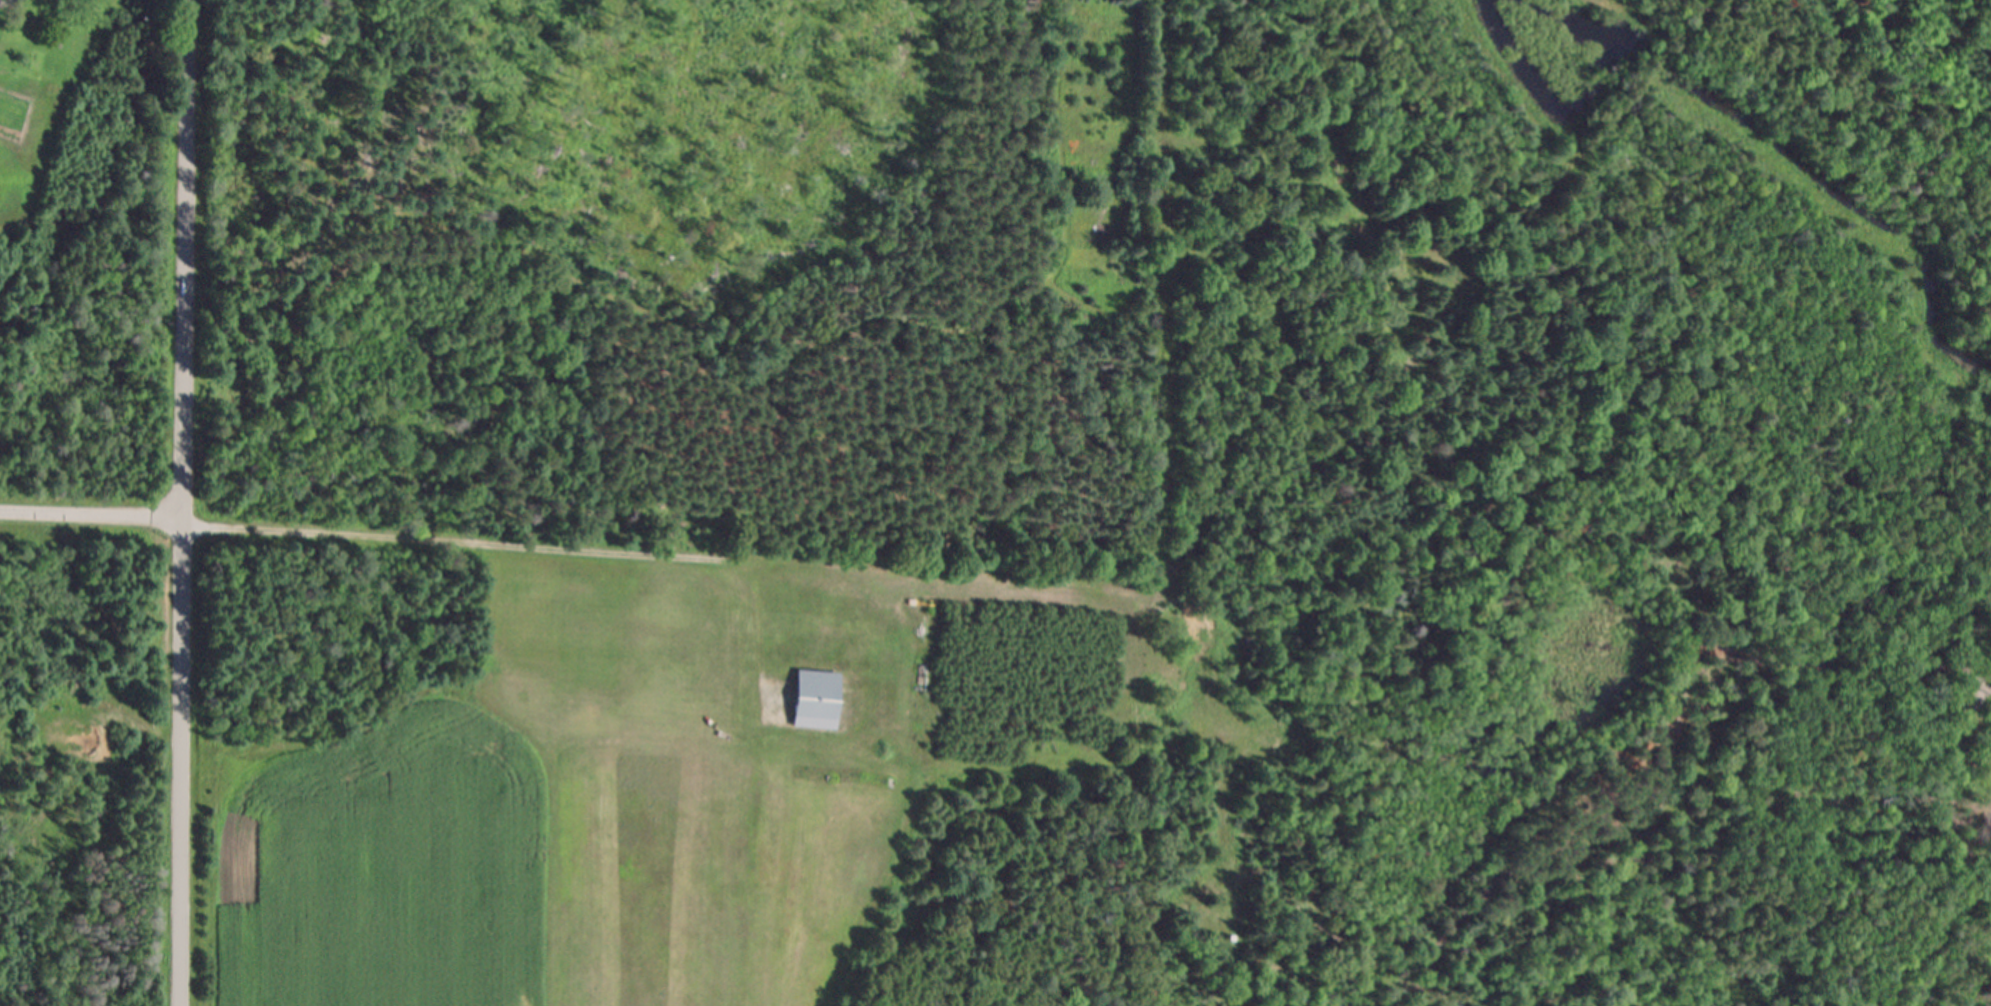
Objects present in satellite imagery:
road: (181, 502)
road: (90, 515)
road: (460, 541)
building: (811, 699)

